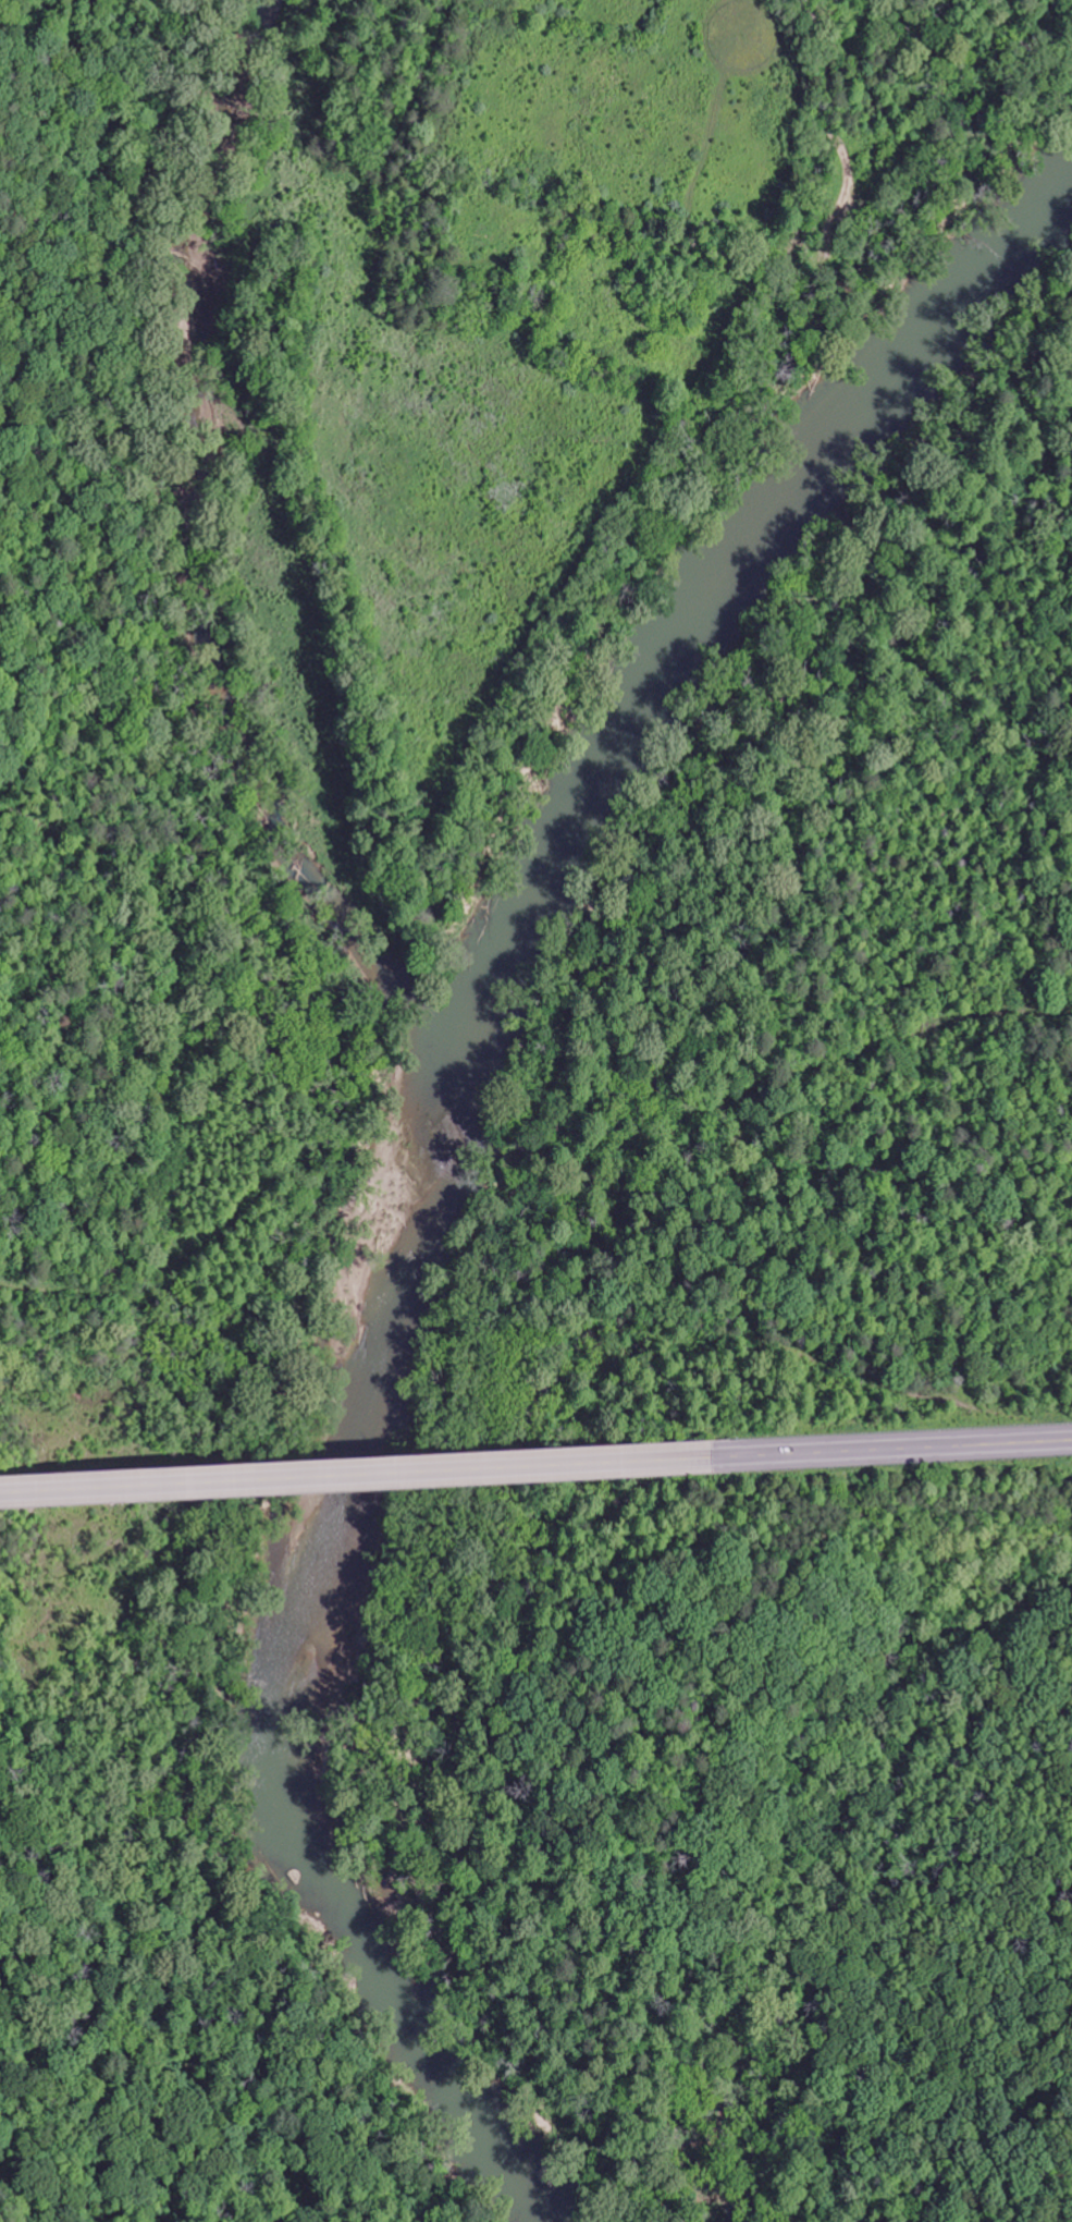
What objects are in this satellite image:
road: (802, 1009)
river: (446, 1138)
road: (889, 1450)
road: (354, 1475)

